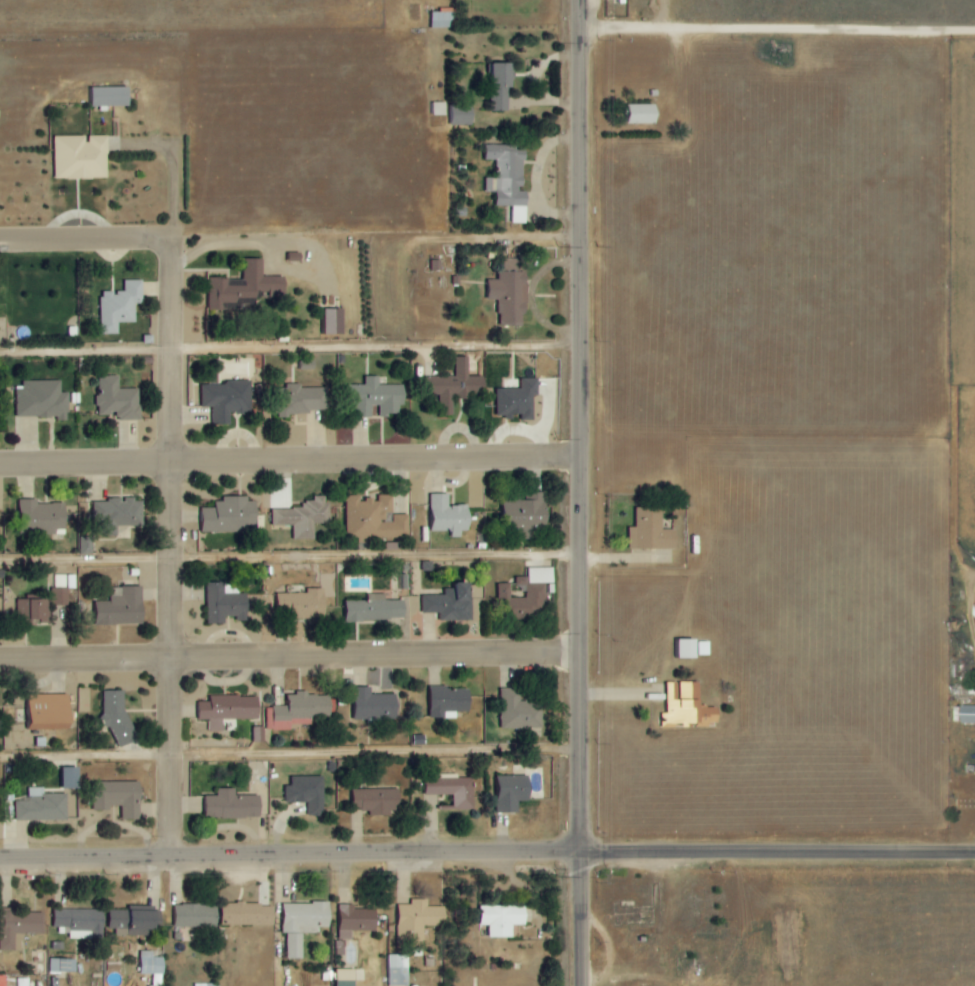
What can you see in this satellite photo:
building: (438, 20)
road: (777, 27)
power tower: (558, 43)
building: (493, 87)
building: (111, 96)
building: (436, 109)
building: (633, 114)
building: (456, 115)
building: (81, 157)
building: (504, 179)
road: (91, 241)
power tower: (557, 246)
road: (180, 278)
building: (244, 286)
building: (504, 293)
building: (120, 306)
building: (334, 321)
road: (289, 352)
building: (456, 386)
building: (376, 398)
building: (41, 399)
building: (117, 399)
building: (227, 399)
building: (301, 399)
building: (518, 400)
road: (580, 426)
power tower: (556, 439)
road: (289, 461)
building: (526, 514)
building: (117, 515)
building: (231, 515)
building: (448, 515)
building: (42, 517)
building: (304, 517)
building: (373, 519)
building: (652, 531)
building: (86, 545)
road: (289, 559)
building: (525, 592)
building: (59, 597)
building: (226, 603)
building: (451, 603)
building: (305, 604)
building: (122, 607)
building: (376, 609)
building: (33, 611)
power tower: (557, 636)
building: (686, 648)
road: (288, 655)
road: (178, 661)
building: (450, 701)
building: (375, 705)
building: (687, 706)
building: (228, 709)
building: (298, 710)
building: (517, 710)
building: (51, 712)
building: (966, 714)
building: (257, 734)
road: (289, 756)
building: (70, 778)
building: (453, 789)
building: (514, 792)
building: (308, 793)
building: (119, 798)
building: (377, 801)
building: (233, 805)
building: (41, 806)
road: (777, 853)
road: (289, 857)
power tower: (556, 868)
building: (248, 915)
building: (196, 916)
building: (503, 919)
road: (579, 919)
building: (356, 921)
building: (418, 921)
building: (80, 922)
building: (134, 923)
building: (303, 924)
building: (20, 928)
building: (62, 966)
building: (152, 966)
building: (398, 970)
building: (346, 977)
building: (3, 981)
building: (203, 985)

